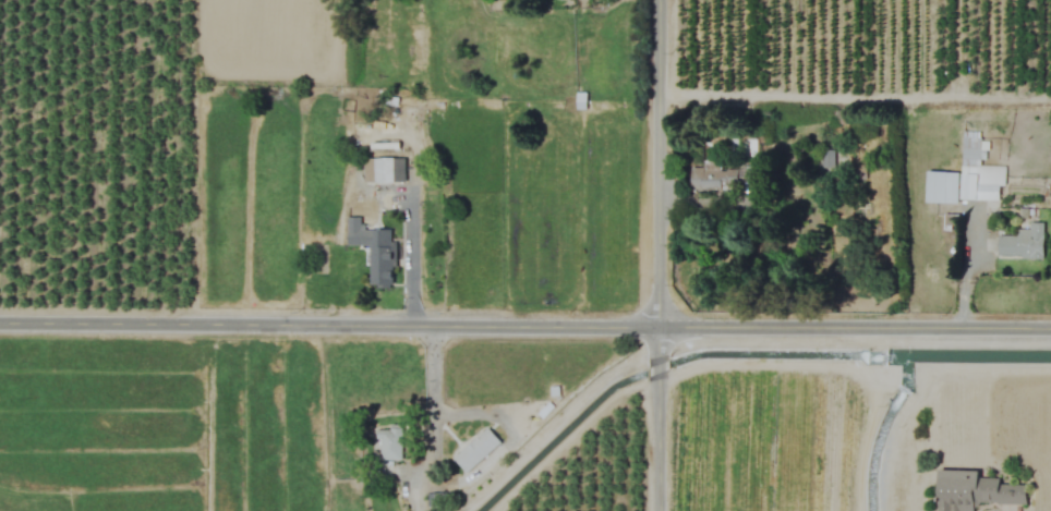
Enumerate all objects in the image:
building: (836, 118)
building: (825, 159)
building: (383, 170)
building: (859, 172)
building: (713, 178)
building: (967, 179)
building: (1023, 244)
building: (373, 254)
road: (655, 255)
road: (408, 260)
road: (524, 326)
road: (428, 419)
road: (553, 424)
road: (509, 442)
building: (389, 445)
building: (475, 450)
building: (975, 490)

